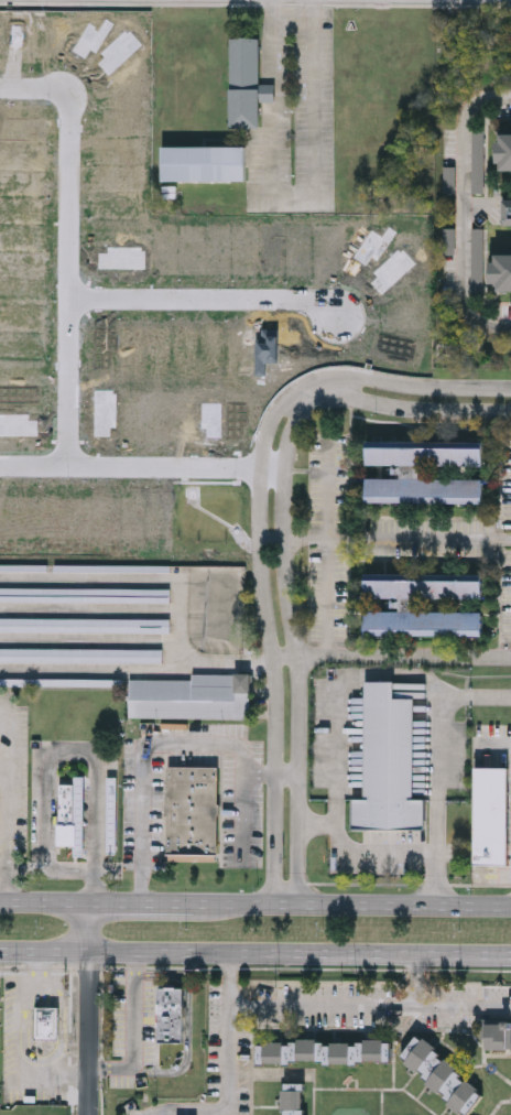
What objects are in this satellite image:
road: (33, 89)
building: (246, 112)
parking lot: (295, 126)
building: (505, 149)
road: (290, 201)
building: (507, 210)
road: (465, 212)
building: (504, 269)
road: (67, 278)
road: (206, 295)
road: (402, 385)
road: (407, 408)
road: (130, 465)
building: (411, 470)
road: (395, 542)
road: (330, 554)
building: (23, 566)
building: (113, 567)
building: (86, 594)
building: (409, 603)
building: (85, 624)
road: (269, 640)
road: (293, 649)
building: (81, 654)
road: (403, 656)
building: (63, 681)
building: (248, 682)
building: (191, 696)
road: (336, 696)
road: (173, 740)
road: (84, 753)
building: (389, 765)
road: (438, 765)
road: (272, 775)
building: (193, 808)
road: (8, 810)
building: (65, 813)
building: (78, 813)
building: (111, 814)
building: (492, 818)
road: (357, 856)
parking lot: (380, 856)
road: (47, 873)
road: (48, 901)
road: (144, 902)
road: (351, 903)
road: (254, 951)
road: (161, 976)
road: (414, 981)
road: (230, 986)
building: (0, 1002)
road: (95, 1008)
road: (323, 1008)
road: (133, 1010)
building: (172, 1017)
building: (48, 1022)
parking lot: (132, 1028)
building: (498, 1032)
road: (24, 1035)
building: (324, 1050)
road: (187, 1056)
building: (441, 1072)
road: (270, 1073)
building: (294, 1097)

